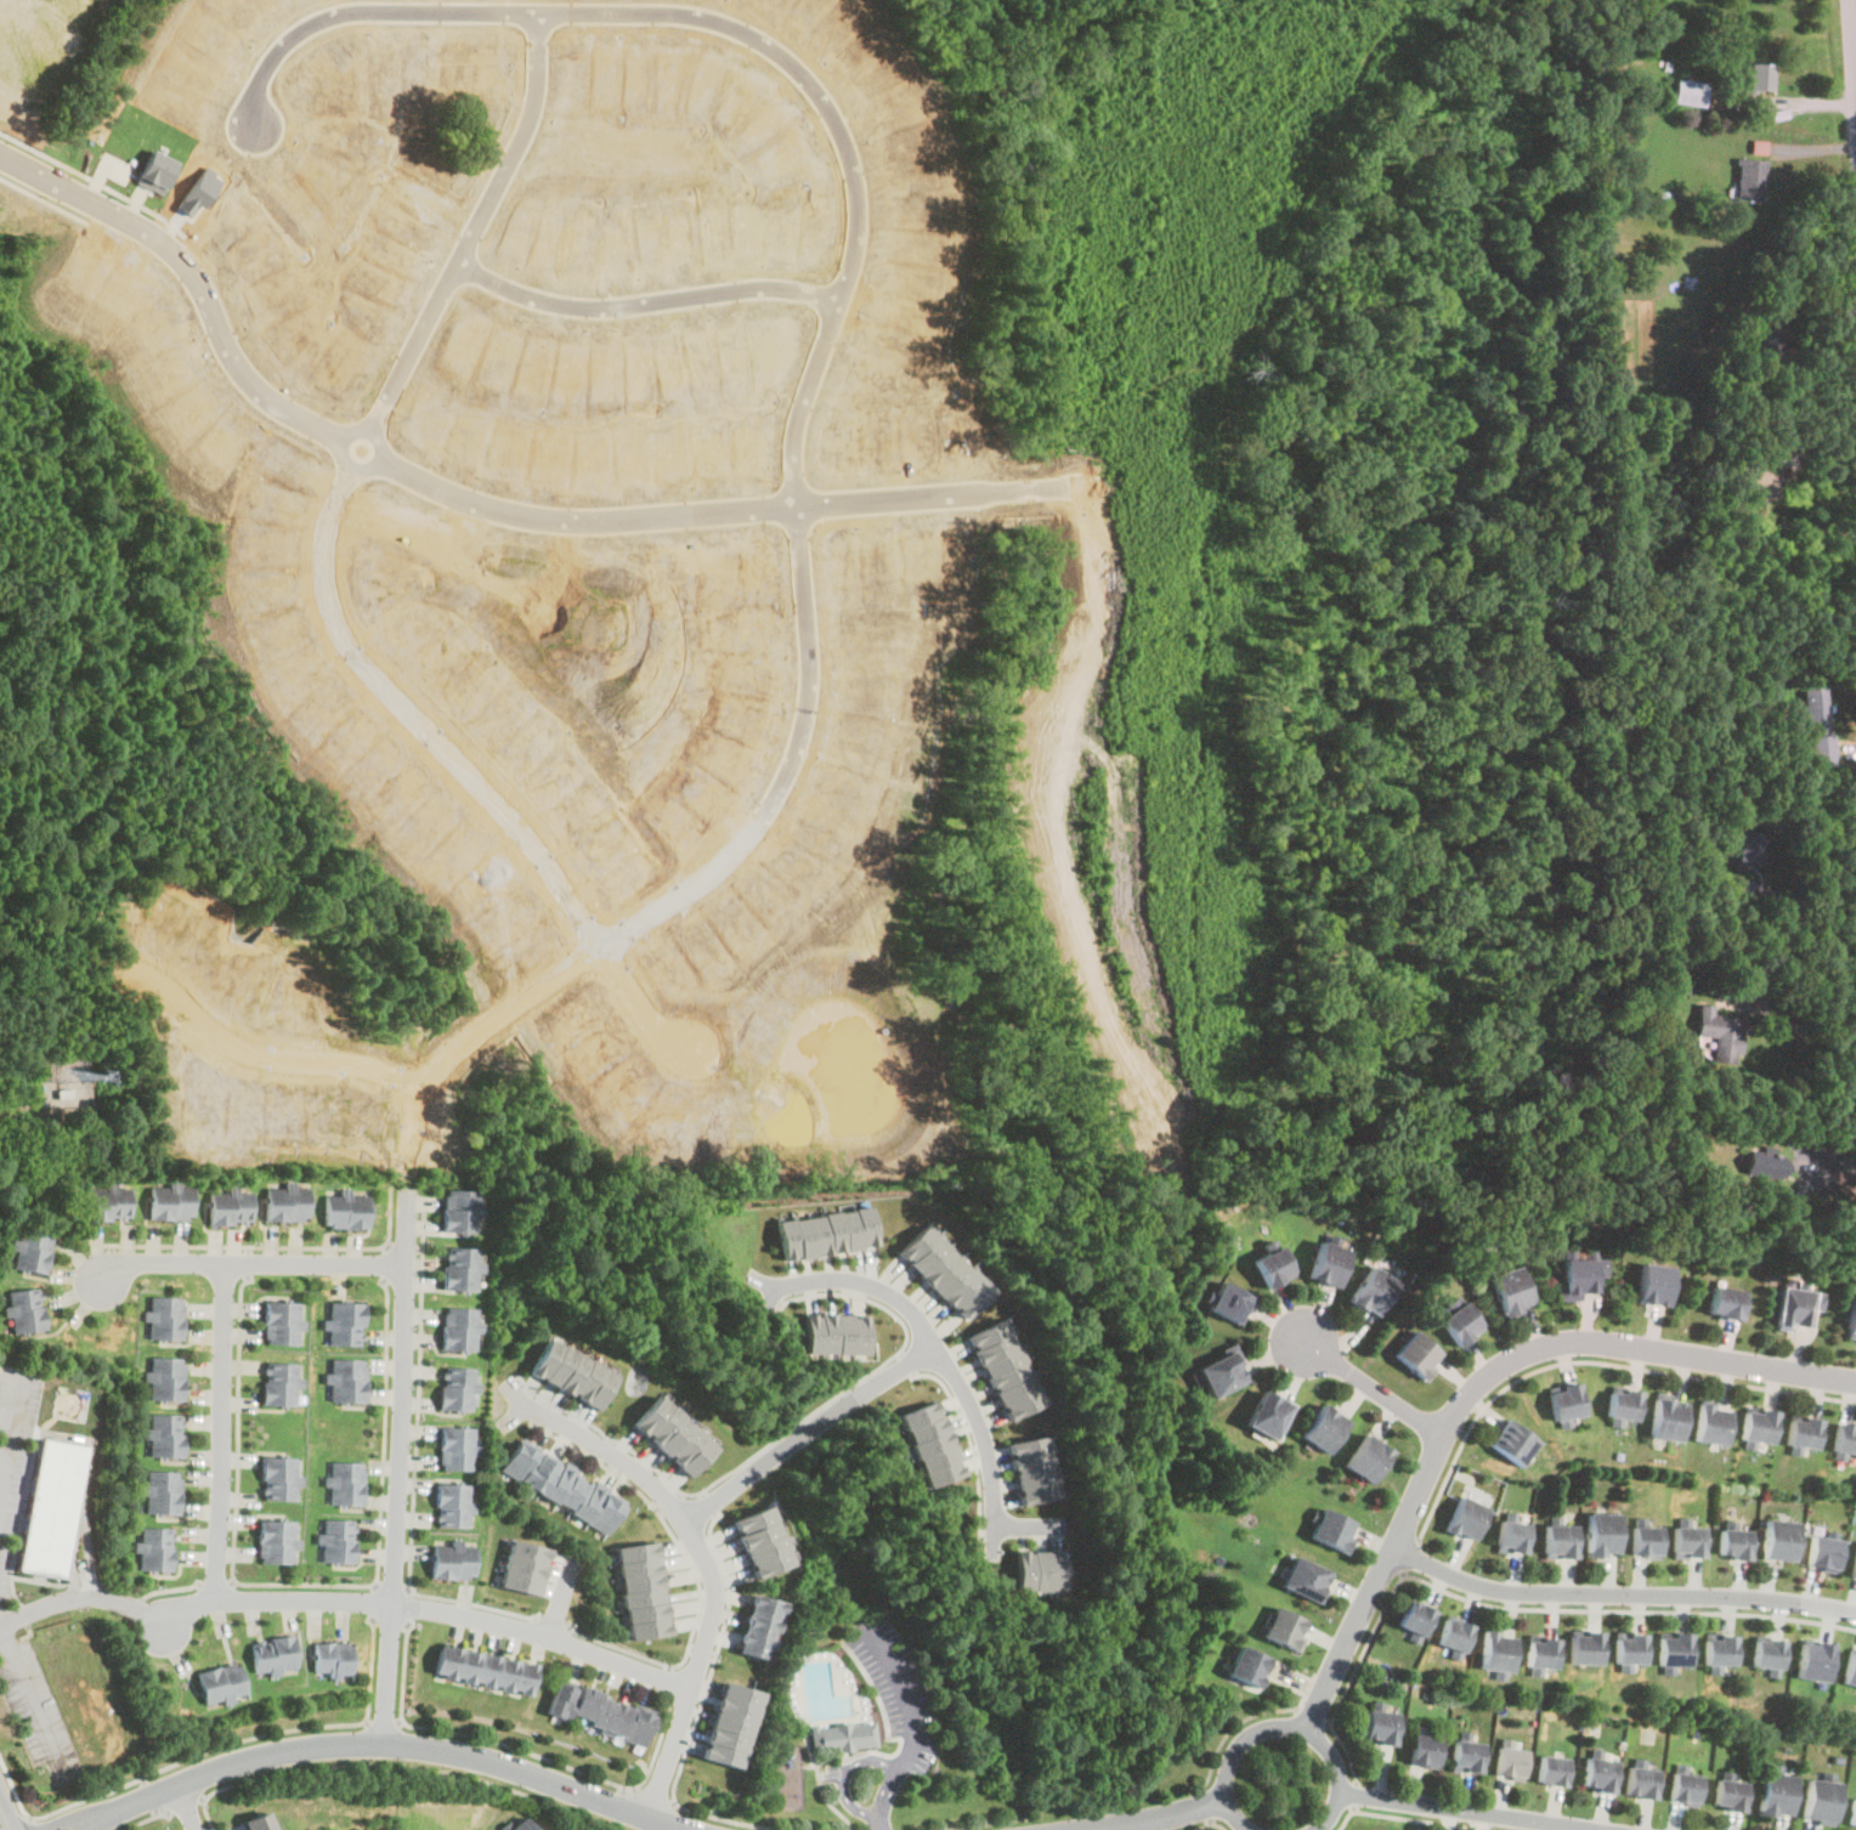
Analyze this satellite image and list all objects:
building: (10, 9)
road: (725, 27)
road: (1852, 40)
road: (1855, 47)
building: (1759, 77)
building: (1688, 91)
building: (1749, 180)
road: (466, 234)
road: (639, 305)
building: (1767, 338)
road: (412, 474)
building: (1760, 474)
building: (1815, 712)
road: (468, 759)
building: (1749, 849)
road: (1812, 894)
building: (1720, 1033)
road: (1807, 1033)
road: (451, 1044)
building: (1760, 1151)
road: (1835, 1196)
building: (104, 1202)
building: (168, 1202)
building: (284, 1203)
building: (227, 1207)
building: (343, 1211)
building: (455, 1212)
building: (827, 1231)
road: (273, 1246)
road: (403, 1246)
building: (29, 1250)
road: (248, 1259)
road: (385, 1260)
road: (248, 1263)
building: (1326, 1265)
building: (1269, 1268)
building: (457, 1269)
building: (945, 1270)
building: (1579, 1277)
building: (1652, 1285)
building: (1510, 1291)
building: (1371, 1292)
building: (1227, 1301)
building: (1725, 1303)
building: (1796, 1308)
building: (24, 1309)
building: (164, 1316)
building: (1851, 1320)
building: (278, 1322)
building: (343, 1324)
building: (1459, 1325)
building: (454, 1327)
building: (833, 1331)
road: (939, 1354)
building: (1416, 1355)
road: (1588, 1360)
road: (906, 1361)
building: (1003, 1366)
building: (567, 1372)
building: (1217, 1375)
building: (165, 1377)
building: (344, 1378)
building: (276, 1382)
road: (1481, 1383)
building: (452, 1387)
road: (1376, 1390)
building: (1564, 1403)
building: (1622, 1405)
building: (1266, 1416)
building: (1665, 1421)
building: (1711, 1424)
road: (11, 1426)
building: (1758, 1426)
building: (1322, 1429)
road: (219, 1430)
road: (805, 1432)
building: (669, 1433)
building: (1801, 1433)
building: (163, 1434)
road: (776, 1437)
road: (968, 1439)
building: (1844, 1440)
building: (928, 1443)
building: (1511, 1443)
building: (452, 1447)
road: (412, 1460)
building: (1365, 1460)
building: (1031, 1468)
building: (273, 1477)
building: (340, 1483)
building: (561, 1485)
building: (158, 1491)
road: (667, 1501)
building: (449, 1503)
road: (706, 1503)
building: (52, 1507)
building: (1465, 1515)
road: (662, 1519)
road: (1026, 1523)
building: (1329, 1528)
building: (1602, 1532)
building: (1511, 1535)
building: (759, 1539)
building: (1558, 1539)
building: (1646, 1539)
building: (1778, 1539)
building: (271, 1540)
building: (333, 1540)
building: (1688, 1540)
building: (1735, 1542)
building: (153, 1548)
building: (1823, 1551)
road: (1408, 1554)
road: (703, 1556)
building: (451, 1559)
building: (1854, 1563)
building: (522, 1565)
building: (1037, 1566)
building: (1303, 1577)
road: (216, 1583)
road: (299, 1583)
road: (391, 1586)
road: (170, 1588)
building: (640, 1590)
road: (1620, 1592)
road: (373, 1598)
road: (560, 1598)
road: (79, 1599)
road: (409, 1605)
road: (428, 1607)
road: (1625, 1609)
building: (1414, 1616)
road: (390, 1619)
building: (756, 1625)
building: (1283, 1627)
building: (1453, 1633)
road: (613, 1645)
building: (1585, 1647)
road: (1365, 1648)
building: (1630, 1648)
building: (1675, 1649)
building: (1721, 1649)
building: (1496, 1650)
building: (1541, 1650)
building: (1766, 1651)
building: (270, 1654)
building: (329, 1659)
building: (1813, 1660)
building: (1246, 1665)
building: (1850, 1666)
building: (482, 1668)
road: (664, 1679)
building: (219, 1682)
road: (902, 1689)
road: (30, 1698)
building: (598, 1711)
road: (694, 1712)
road: (1313, 1715)
building: (728, 1723)
building: (1380, 1724)
road: (1232, 1726)
road: (1283, 1727)
building: (839, 1735)
road: (247, 1738)
road: (381, 1743)
road: (521, 1747)
building: (1425, 1749)
road: (1347, 1750)
building: (1467, 1753)
building: (1510, 1761)
road: (401, 1764)
building: (1554, 1768)
building: (1601, 1772)
road: (844, 1777)
building: (1643, 1780)
building: (1687, 1785)
road: (12, 1790)
building: (1777, 1791)
building: (1731, 1792)
road: (152, 1794)
road: (653, 1794)
road: (1354, 1794)
road: (883, 1796)
building: (1821, 1798)
road: (1204, 1803)
road: (187, 1804)
road: (188, 1806)
road: (1476, 1811)
building: (1852, 1812)
road: (5, 1813)
road: (1143, 1815)
road: (1346, 1818)
road: (147, 1819)
road: (1424, 1819)
road: (1207, 1820)
building: (258, 1821)
road: (981, 1823)
road: (30, 1824)
road: (1206, 1824)
building: (524, 1825)

